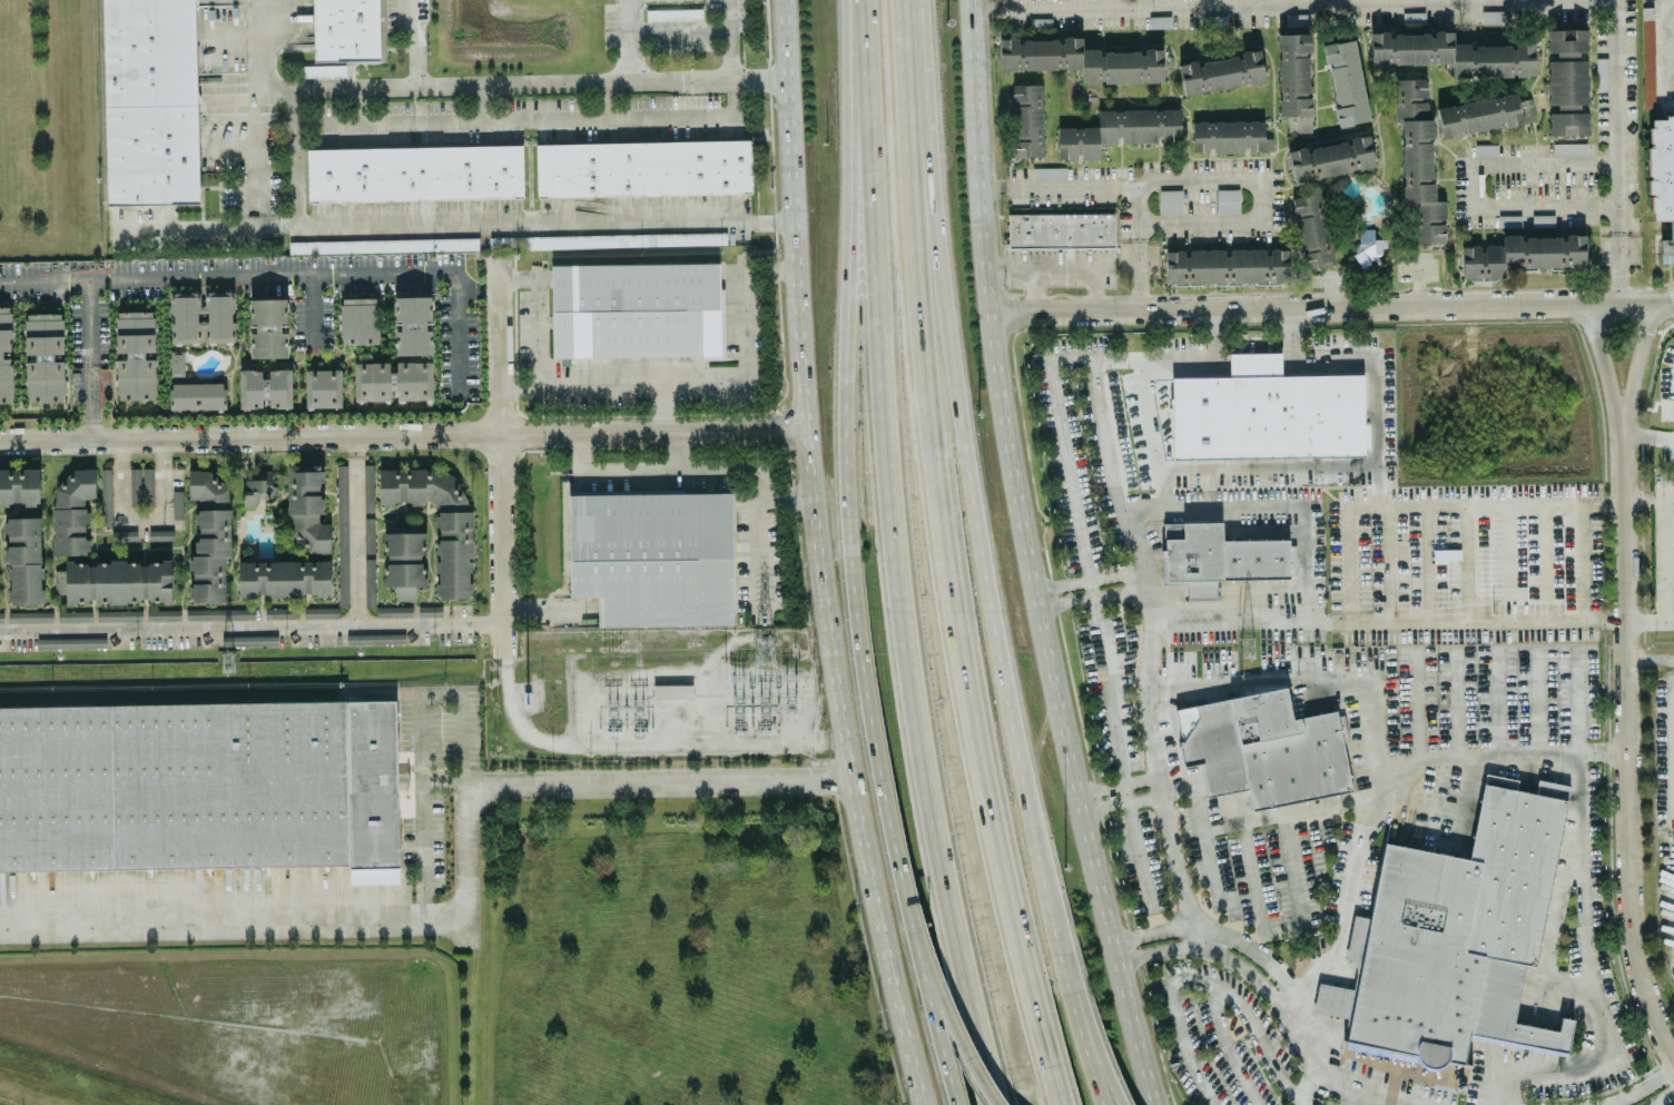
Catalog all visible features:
road: (1149, 4)
building: (673, 13)
building: (1493, 16)
building: (1160, 21)
building: (345, 29)
road: (692, 30)
road: (628, 39)
road: (413, 41)
road: (263, 43)
road: (1664, 45)
building: (149, 51)
road: (728, 53)
building: (1453, 53)
building: (1082, 59)
building: (324, 70)
building: (1221, 71)
building: (1294, 80)
building: (1346, 81)
building: (1568, 81)
road: (518, 82)
road: (732, 96)
road: (608, 99)
road: (480, 101)
building: (1479, 115)
road: (512, 118)
building: (1028, 118)
road: (515, 129)
road: (539, 129)
building: (1119, 130)
building: (1228, 136)
road: (538, 140)
building: (1569, 148)
road: (1621, 150)
building: (151, 152)
road: (294, 156)
road: (254, 157)
building: (1330, 158)
building: (1419, 162)
building: (644, 167)
building: (415, 172)
building: (1048, 172)
road: (1212, 175)
building: (1662, 178)
road: (529, 180)
road: (1477, 180)
building: (1228, 199)
building: (1170, 200)
building: (1508, 219)
road: (447, 223)
building: (1311, 229)
building: (1061, 230)
building: (608, 239)
road: (1152, 244)
building: (383, 245)
building: (1523, 255)
building: (1227, 266)
road: (1058, 267)
road: (228, 275)
road: (846, 279)
road: (480, 287)
road: (1033, 289)
road: (1332, 306)
road: (313, 307)
building: (636, 309)
building: (201, 317)
road: (1211, 317)
road: (1287, 317)
building: (360, 320)
building: (412, 325)
building: (268, 327)
road: (459, 329)
road: (1288, 345)
road: (1211, 346)
building: (6, 354)
building: (135, 355)
building: (45, 357)
road: (90, 358)
road: (543, 363)
road: (1249, 363)
building: (177, 364)
road: (1050, 364)
road: (746, 367)
building: (393, 379)
building: (265, 387)
building: (323, 387)
road: (526, 387)
building: (197, 395)
building: (1266, 413)
road: (400, 433)
road: (1650, 433)
road: (503, 441)
road: (963, 445)
road: (673, 447)
road: (1159, 458)
road: (1362, 461)
road: (682, 466)
building: (19, 485)
building: (141, 485)
building: (257, 486)
building: (368, 486)
road: (1651, 494)
road: (1526, 502)
building: (177, 503)
building: (79, 507)
building: (306, 509)
road: (142, 516)
building: (439, 519)
road: (356, 530)
building: (210, 534)
building: (368, 534)
road: (1586, 540)
road: (938, 544)
road: (758, 545)
road: (889, 550)
building: (654, 556)
road: (813, 556)
building: (1218, 556)
road: (1031, 558)
building: (23, 560)
road: (1418, 561)
building: (404, 562)
road: (1302, 564)
building: (284, 578)
road: (1083, 579)
building: (118, 581)
building: (370, 581)
road: (1087, 588)
building: (343, 593)
road: (1085, 596)
road: (546, 606)
building: (321, 611)
building: (394, 611)
building: (0, 616)
road: (1550, 618)
road: (1650, 620)
road: (1357, 621)
road: (1253, 622)
road: (252, 627)
building: (374, 639)
power tower: (1245, 648)
power tower: (764, 651)
road: (1651, 657)
power tower: (232, 662)
power tower: (738, 675)
power tower: (788, 675)
road: (1627, 678)
road: (1145, 679)
road: (1310, 679)
road: (1107, 687)
building: (676, 690)
power substation: (650, 694)
power tower: (613, 701)
power tower: (637, 701)
road: (1456, 701)
road: (1496, 701)
road: (1537, 701)
road: (1576, 702)
road: (1417, 706)
road: (418, 737)
road: (874, 738)
road: (626, 744)
building: (1263, 748)
road: (1671, 751)
road: (1560, 753)
road: (442, 779)
road: (1117, 783)
road: (654, 785)
building: (199, 788)
road: (1124, 792)
road: (1121, 801)
road: (1197, 808)
road: (1283, 820)
road: (1247, 846)
road: (1173, 857)
road: (463, 867)
road: (230, 921)
road: (1215, 934)
building: (1456, 935)
road: (1060, 936)
road: (1055, 938)
road: (1209, 951)
road: (933, 1010)
road: (948, 1013)
road: (1178, 1022)
road: (1099, 1046)
road: (1084, 1048)
road: (1229, 1048)
road: (1267, 1056)
road: (1317, 1056)
road: (1635, 1089)
road: (1057, 1092)
road: (1156, 1092)
road: (1373, 1096)
road: (1663, 1097)
road: (991, 1098)
road: (1302, 1098)

